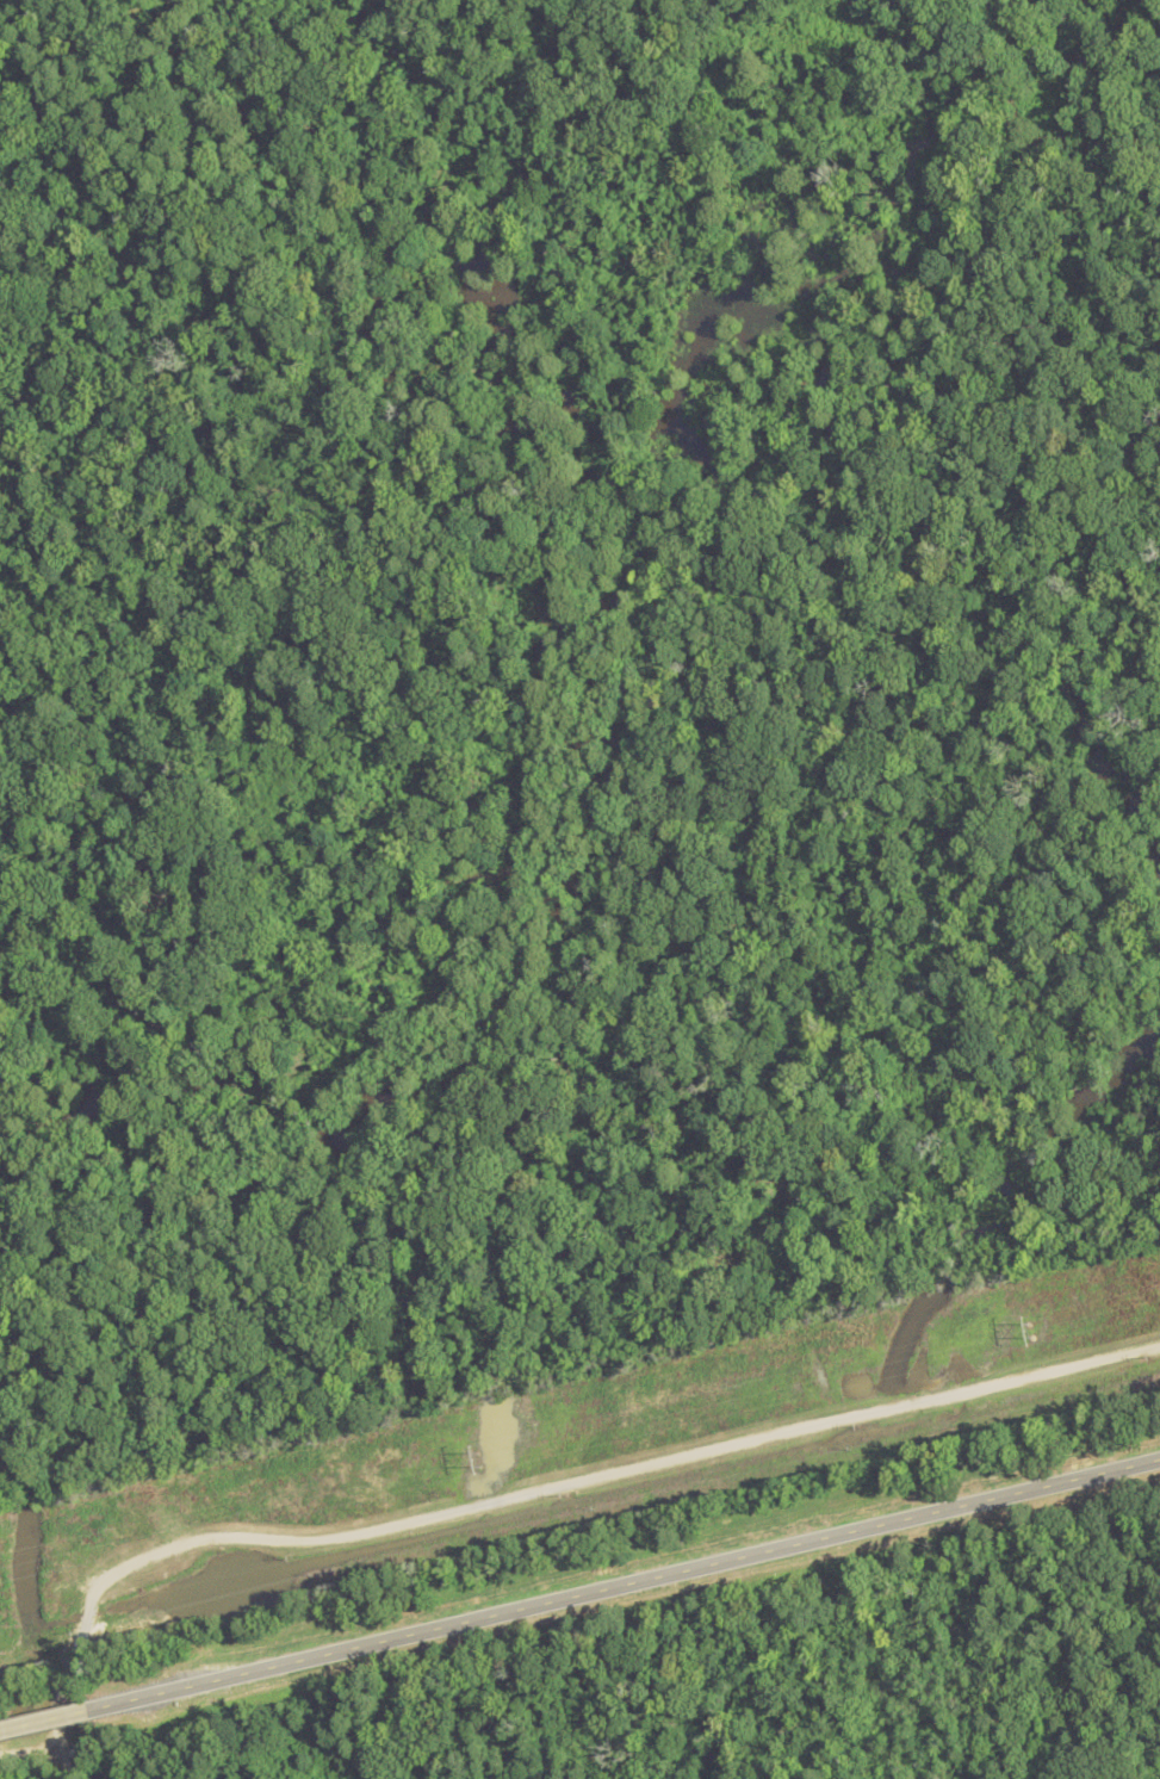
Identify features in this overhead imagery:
power tower: (1030, 1331)
power tower: (482, 1459)
road: (519, 1498)
road: (624, 1580)
road: (43, 1721)

